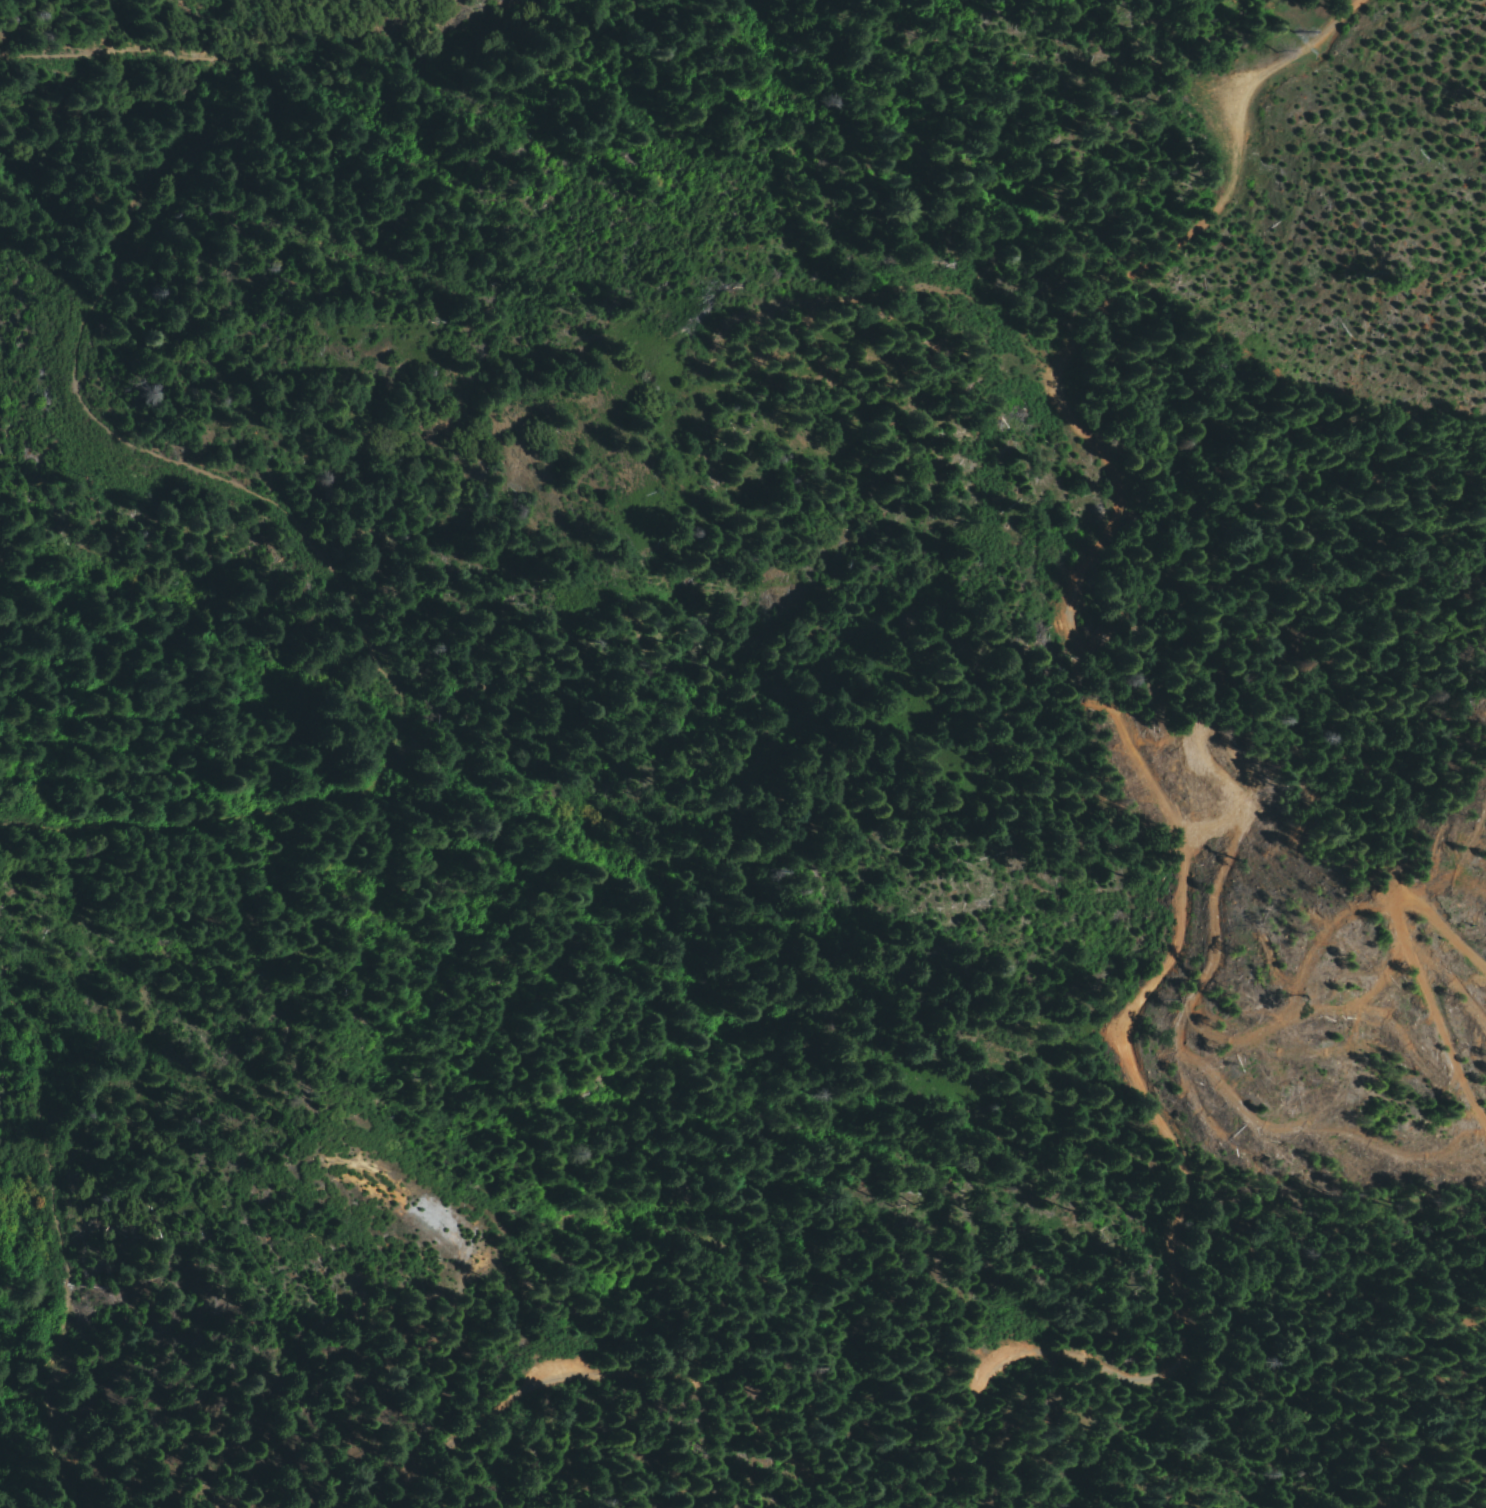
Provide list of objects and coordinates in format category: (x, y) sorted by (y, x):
road: (107, 380)
road: (200, 816)
road: (1189, 875)
road: (1421, 966)
road: (43, 1292)
road: (611, 1380)

